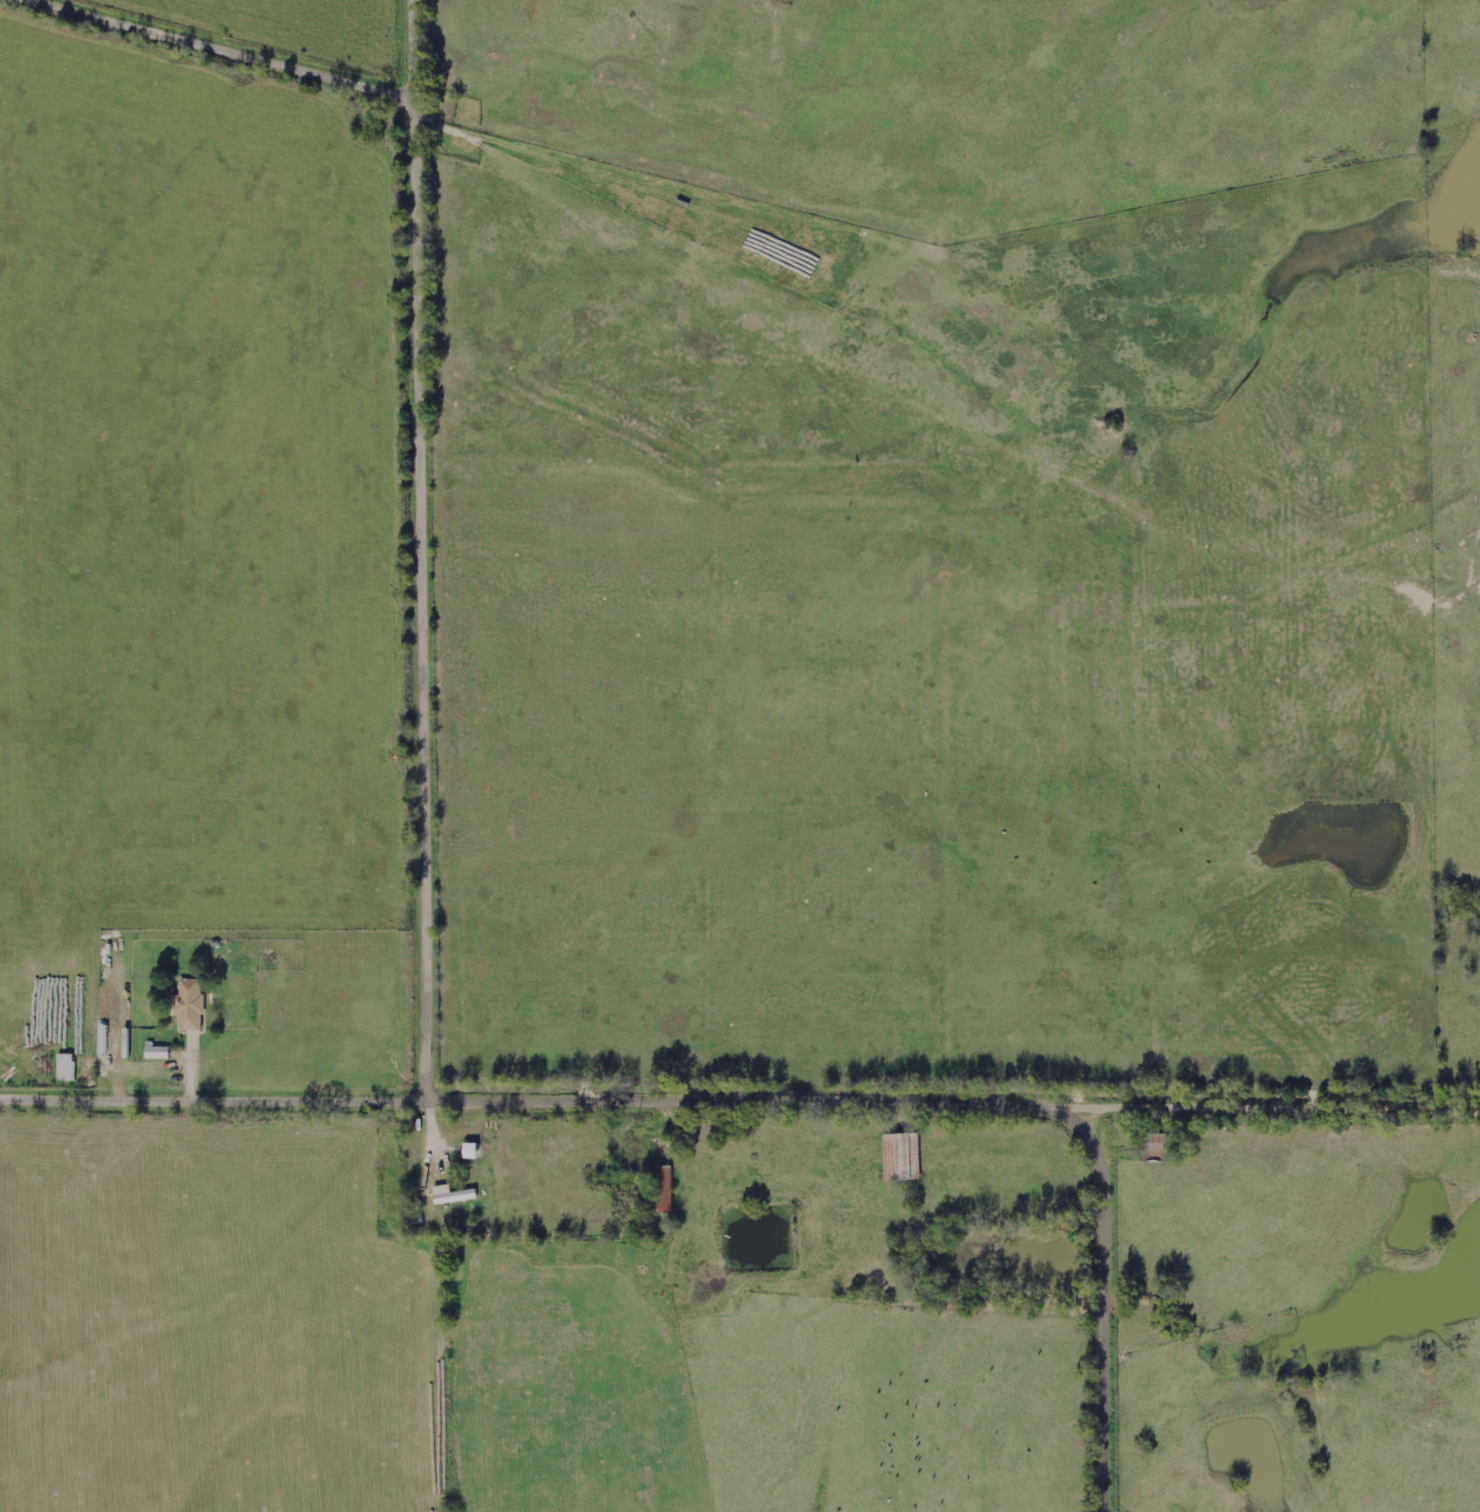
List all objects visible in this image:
road: (218, 51)
road: (428, 552)
building: (192, 1006)
building: (159, 1052)
building: (68, 1068)
road: (739, 1105)
building: (476, 1152)
building: (904, 1158)
building: (455, 1196)
road: (1113, 1311)

